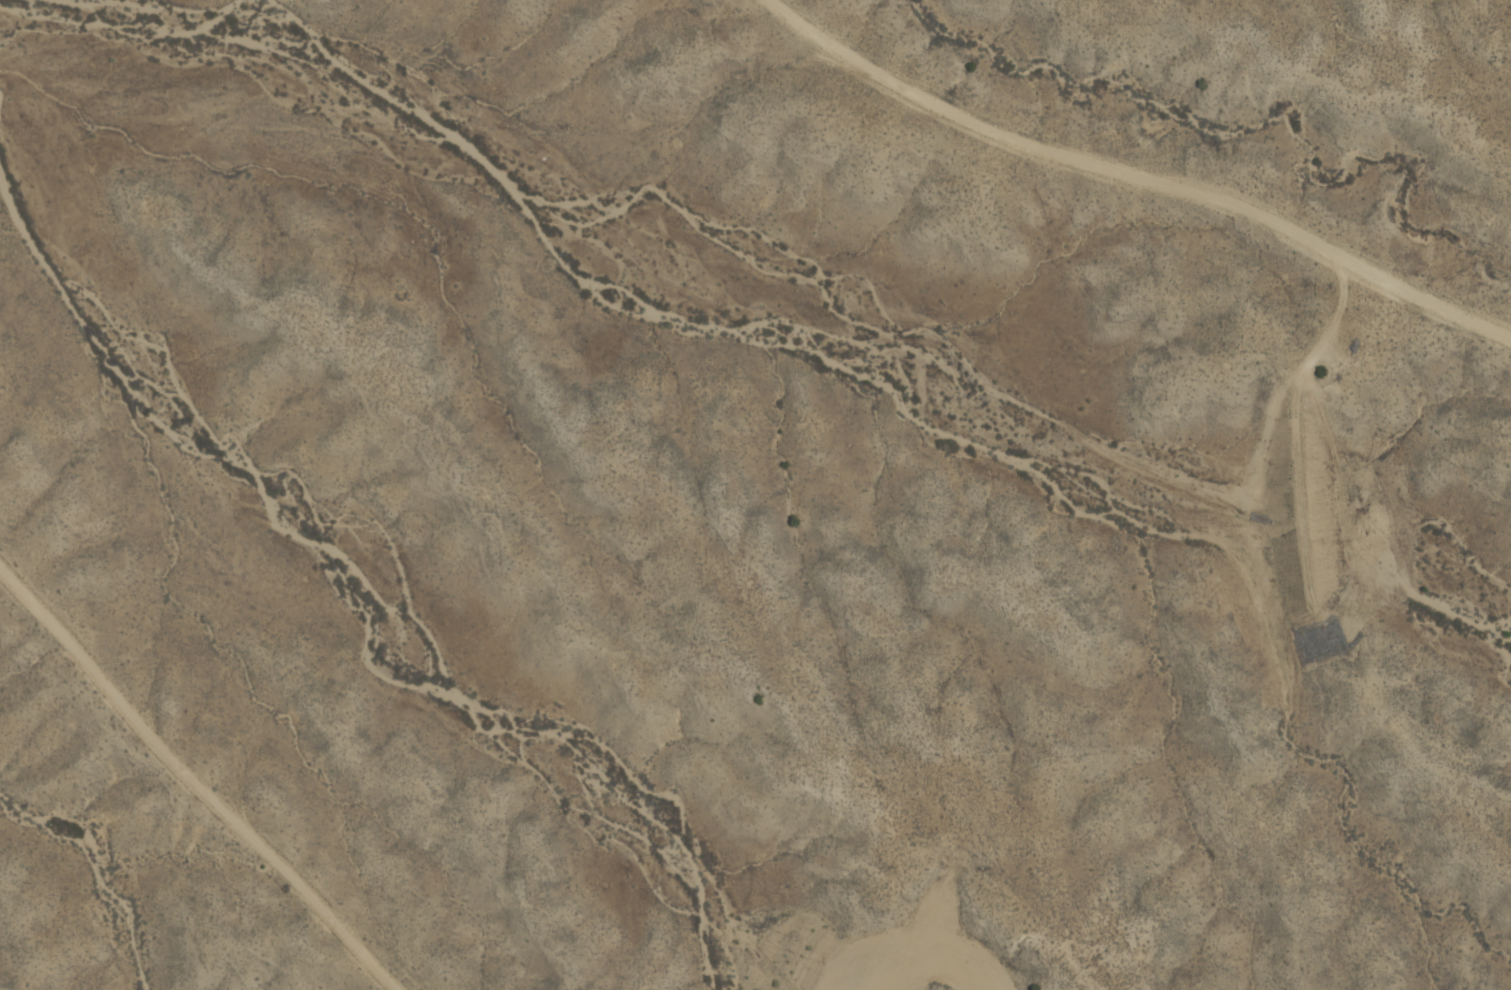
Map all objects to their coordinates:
road: (194, 786)

